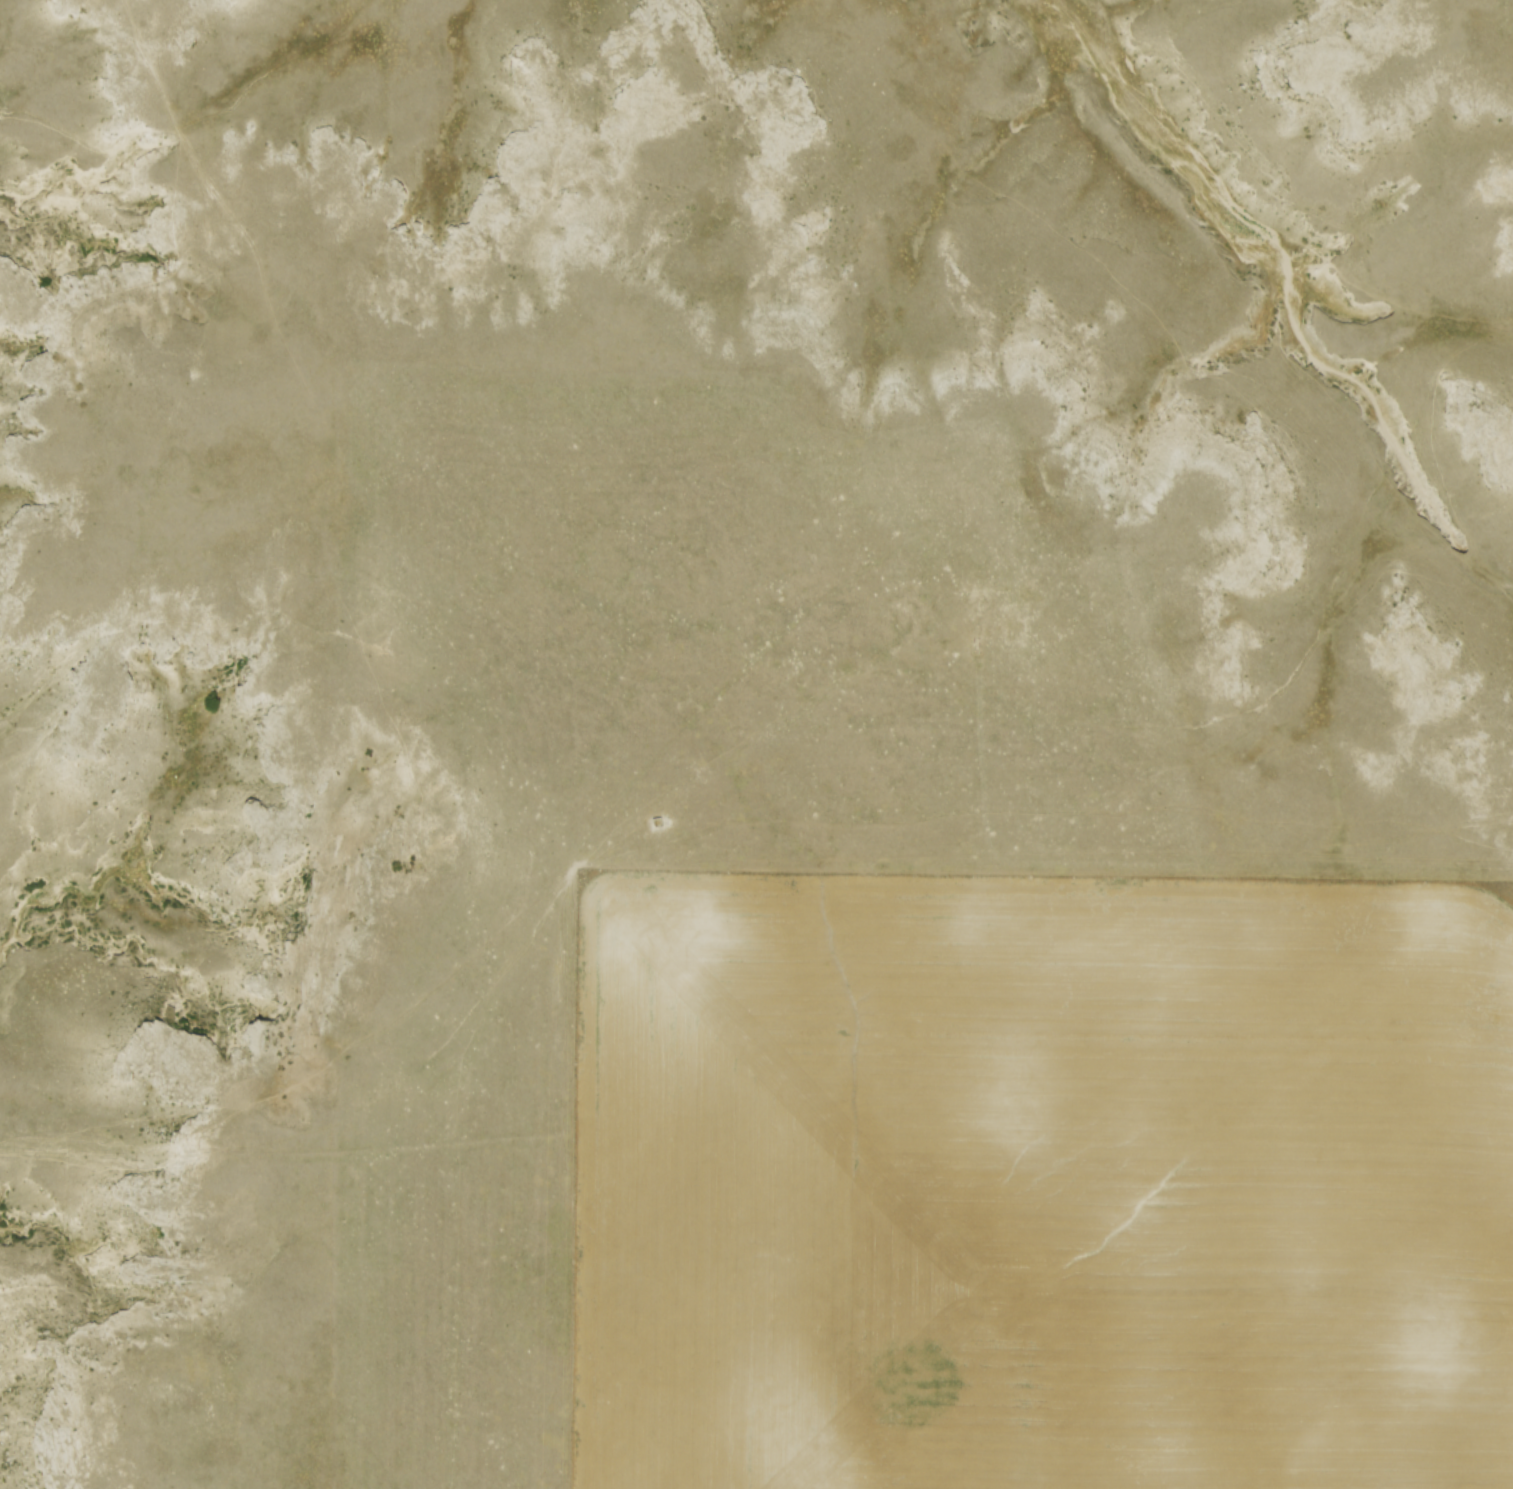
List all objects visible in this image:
crop: (1044, 1182)

